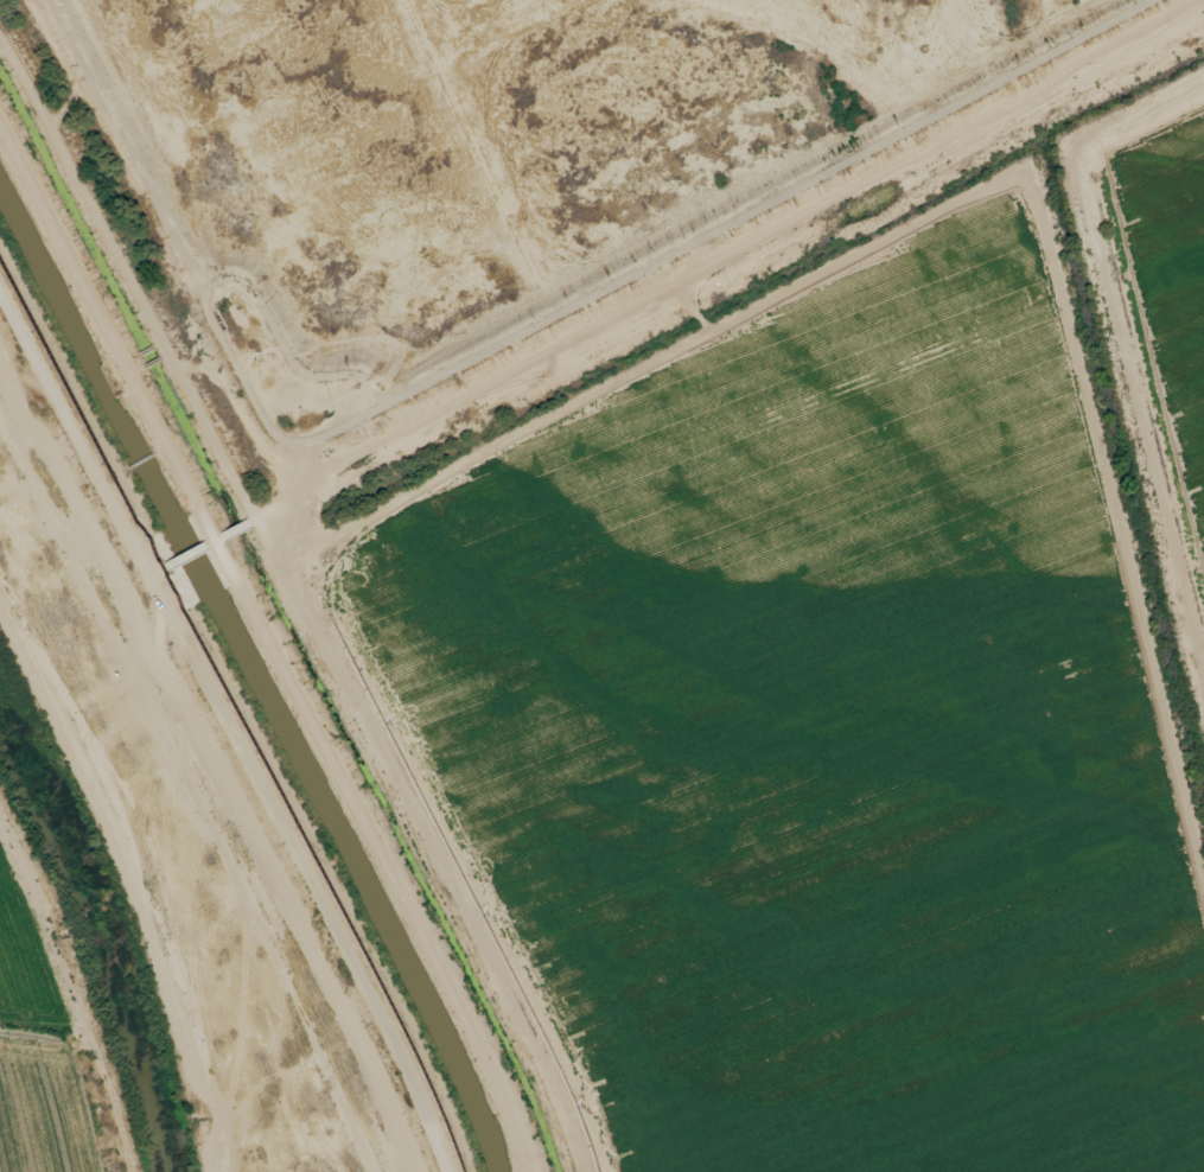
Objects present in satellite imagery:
river: (0, 732)
river: (98, 945)

